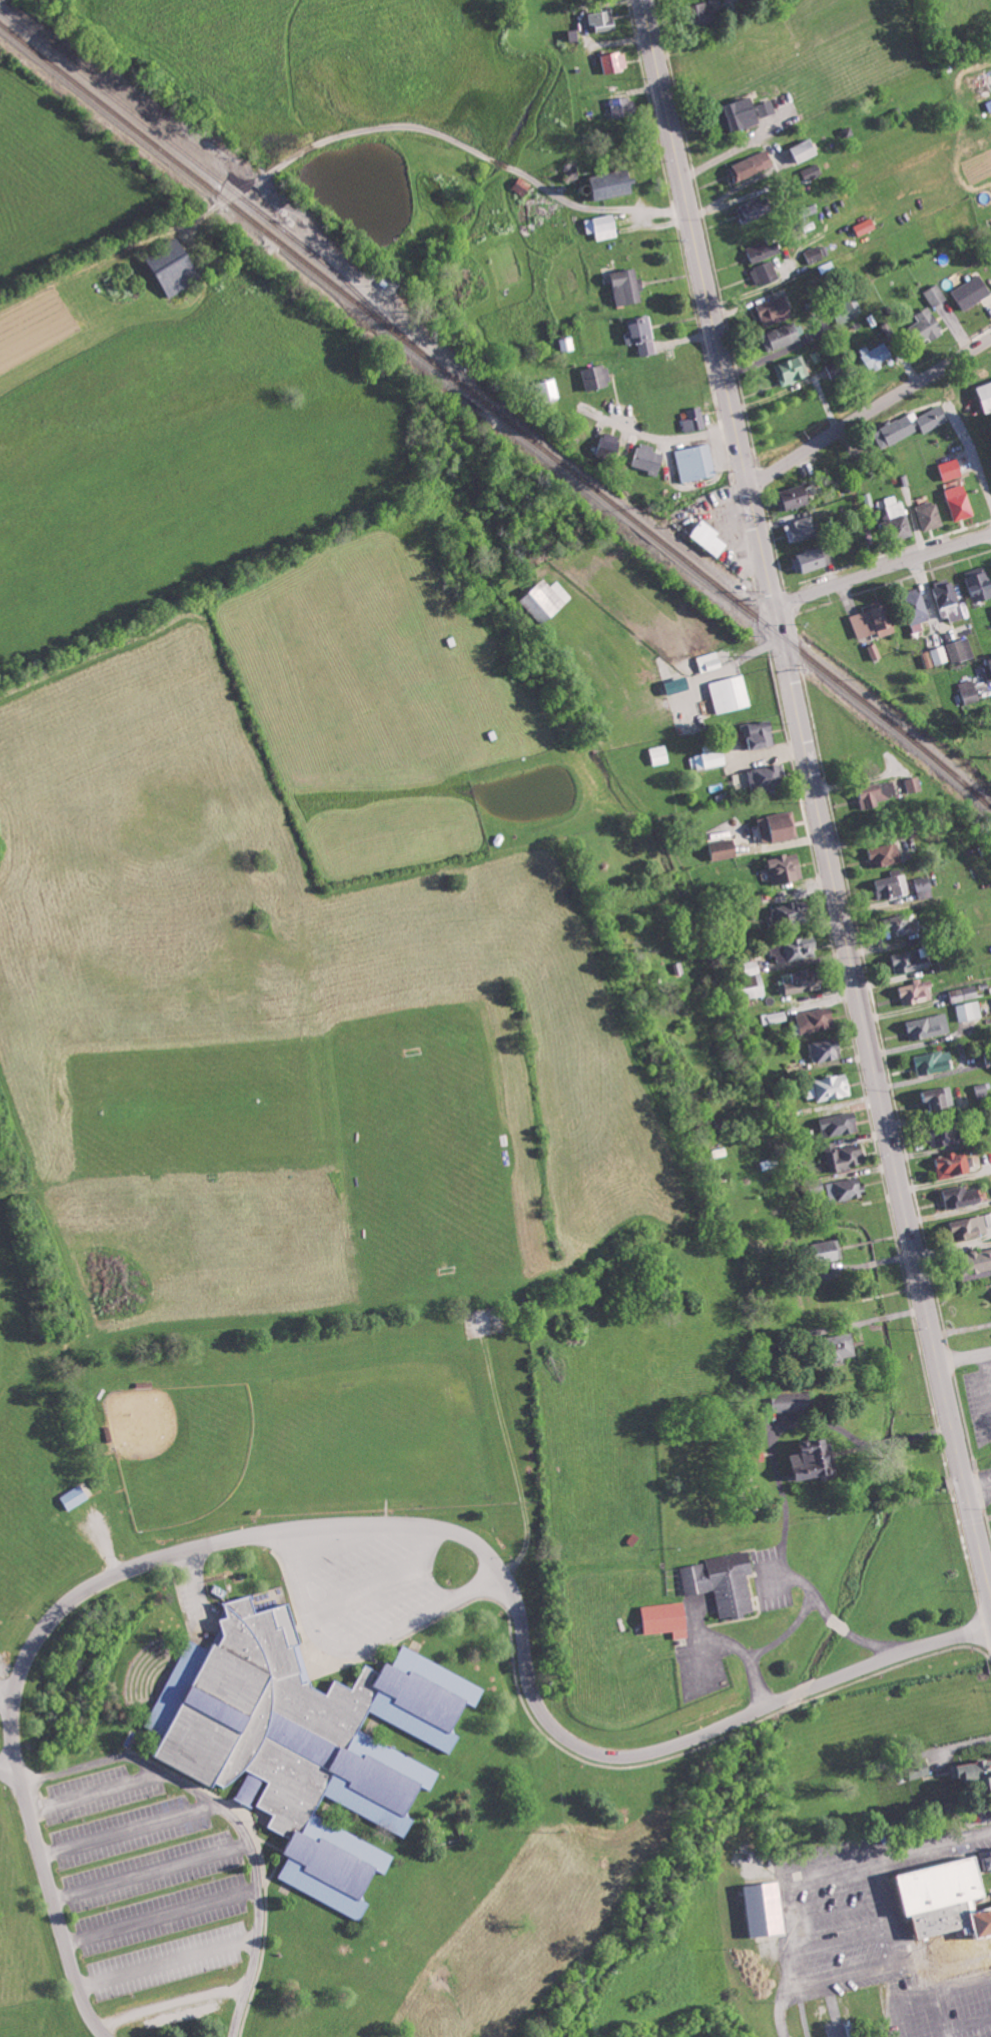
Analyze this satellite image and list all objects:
building: (708, 12)
building: (603, 18)
building: (616, 62)
building: (625, 107)
building: (750, 113)
road: (437, 132)
railway: (193, 146)
building: (806, 150)
building: (753, 165)
building: (812, 171)
building: (615, 184)
building: (523, 186)
railway: (236, 193)
building: (757, 208)
building: (602, 226)
building: (866, 227)
building: (764, 250)
building: (818, 253)
building: (176, 267)
building: (765, 273)
building: (628, 286)
building: (973, 291)
building: (936, 295)
building: (776, 310)
building: (930, 324)
building: (642, 334)
building: (782, 336)
building: (569, 344)
building: (876, 355)
building: (837, 368)
building: (792, 371)
building: (597, 377)
building: (553, 387)
building: (986, 395)
railway: (498, 410)
road: (869, 410)
building: (695, 420)
building: (911, 425)
building: (611, 445)
building: (649, 458)
building: (696, 463)
building: (951, 469)
building: (798, 496)
building: (960, 502)
building: (894, 506)
building: (930, 515)
building: (902, 526)
building: (802, 529)
building: (711, 539)
building: (818, 558)
road: (883, 571)
building: (980, 583)
building: (948, 599)
building: (547, 601)
building: (917, 607)
building: (874, 620)
building: (961, 650)
building: (875, 652)
building: (940, 656)
building: (710, 661)
building: (680, 684)
building: (970, 690)
building: (731, 693)
building: (761, 733)
building: (660, 753)
building: (709, 759)
building: (769, 776)
building: (914, 784)
building: (879, 792)
road: (815, 797)
building: (779, 826)
building: (726, 848)
building: (885, 854)
building: (787, 868)
building: (891, 885)
building: (925, 887)
building: (792, 911)
building: (904, 927)
building: (796, 948)
building: (911, 960)
building: (801, 980)
building: (916, 992)
building: (969, 1010)
building: (774, 1017)
building: (818, 1019)
building: (929, 1026)
building: (826, 1049)
building: (934, 1062)
building: (834, 1086)
building: (983, 1089)
building: (940, 1096)
building: (840, 1123)
park: (279, 1133)
building: (948, 1137)
building: (847, 1157)
building: (767, 1163)
building: (954, 1164)
building: (846, 1189)
building: (963, 1196)
building: (971, 1227)
building: (831, 1248)
building: (981, 1260)
building: (847, 1344)
road: (964, 1356)
crop: (630, 1389)
building: (796, 1401)
building: (819, 1460)
road: (979, 1486)
building: (72, 1497)
road: (497, 1564)
building: (724, 1582)
building: (668, 1619)
road: (6, 1694)
building: (312, 1740)
building: (976, 1773)
road: (94, 1792)
road: (230, 1816)
road: (127, 1829)
building: (989, 1861)
road: (152, 1871)
building: (937, 1885)
road: (53, 1898)
building: (767, 1910)
road: (161, 1915)
park: (26, 1946)
building: (839, 2028)

